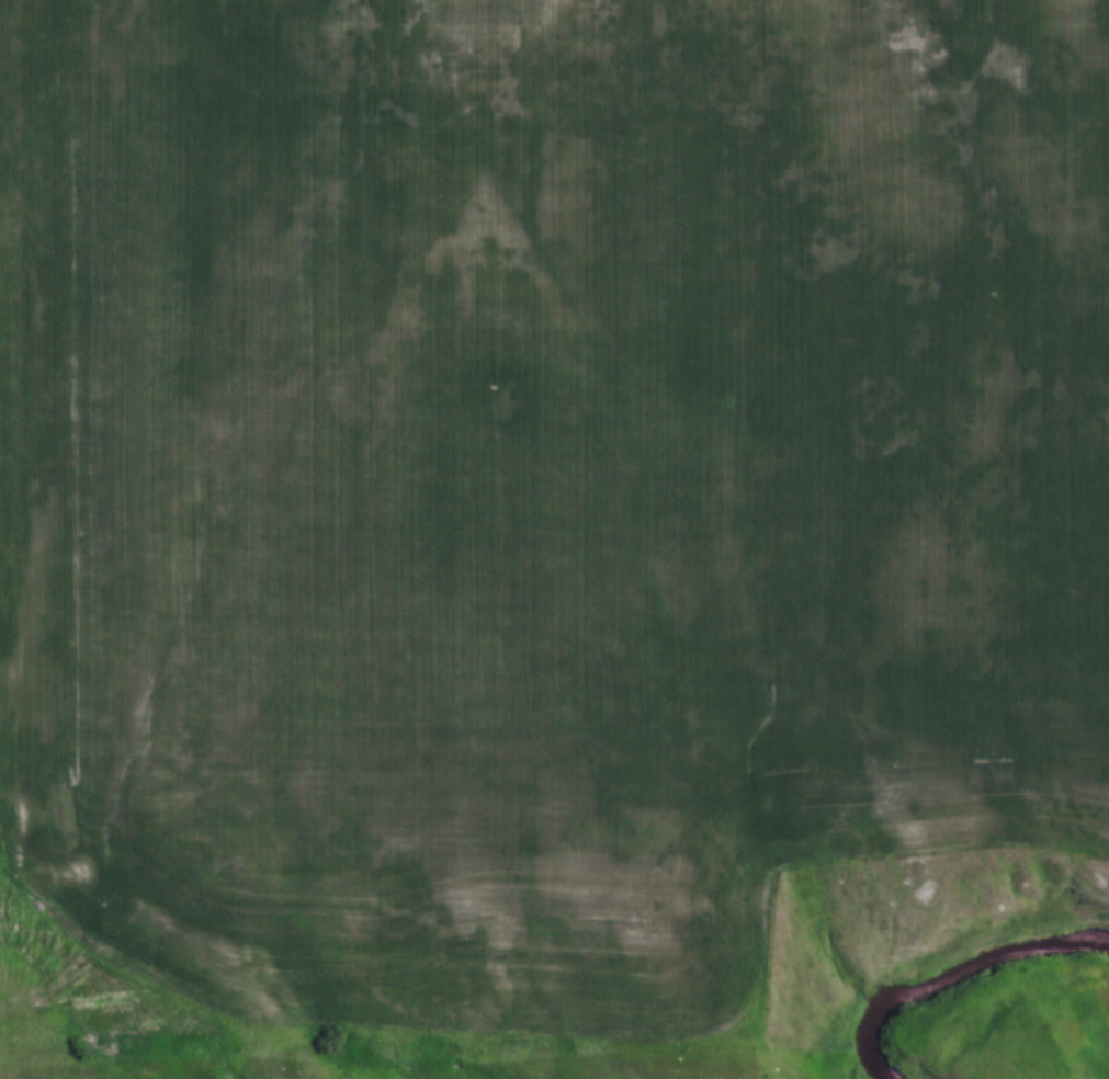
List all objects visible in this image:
crop: (537, 477)
road: (47, 991)

